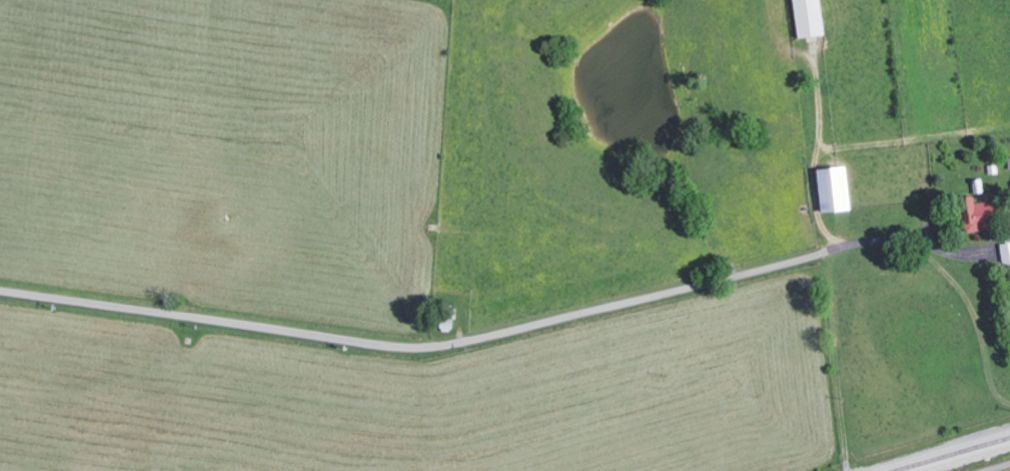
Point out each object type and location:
building: (838, 189)
building: (983, 221)
road: (475, 339)
railway: (948, 453)
road: (998, 467)

